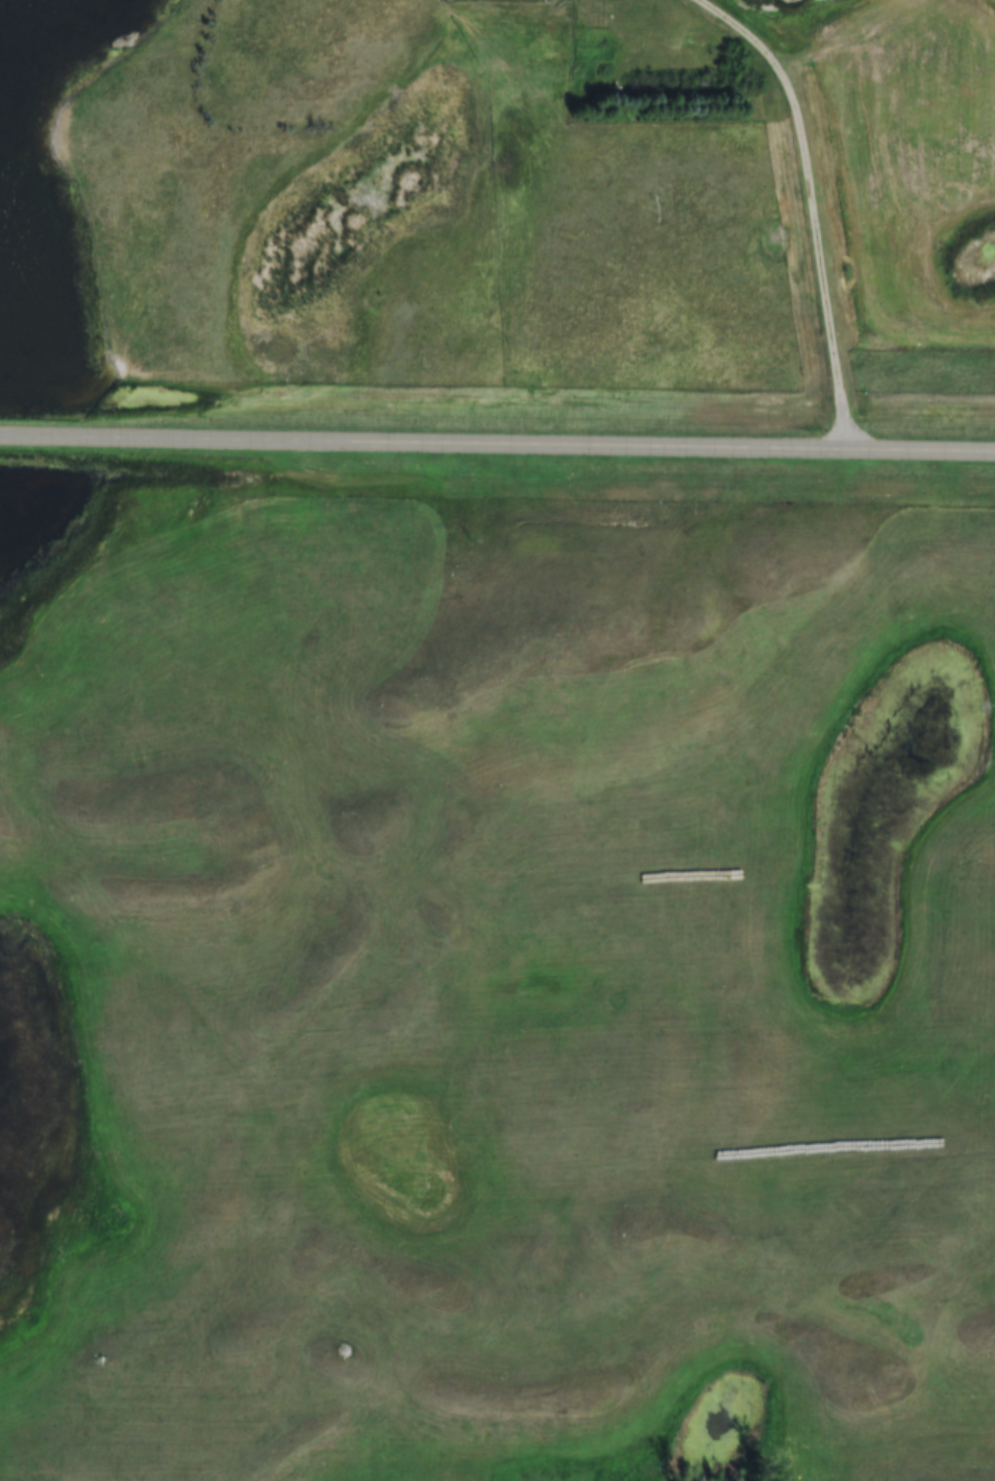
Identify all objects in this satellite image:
road: (815, 203)
road: (497, 442)

